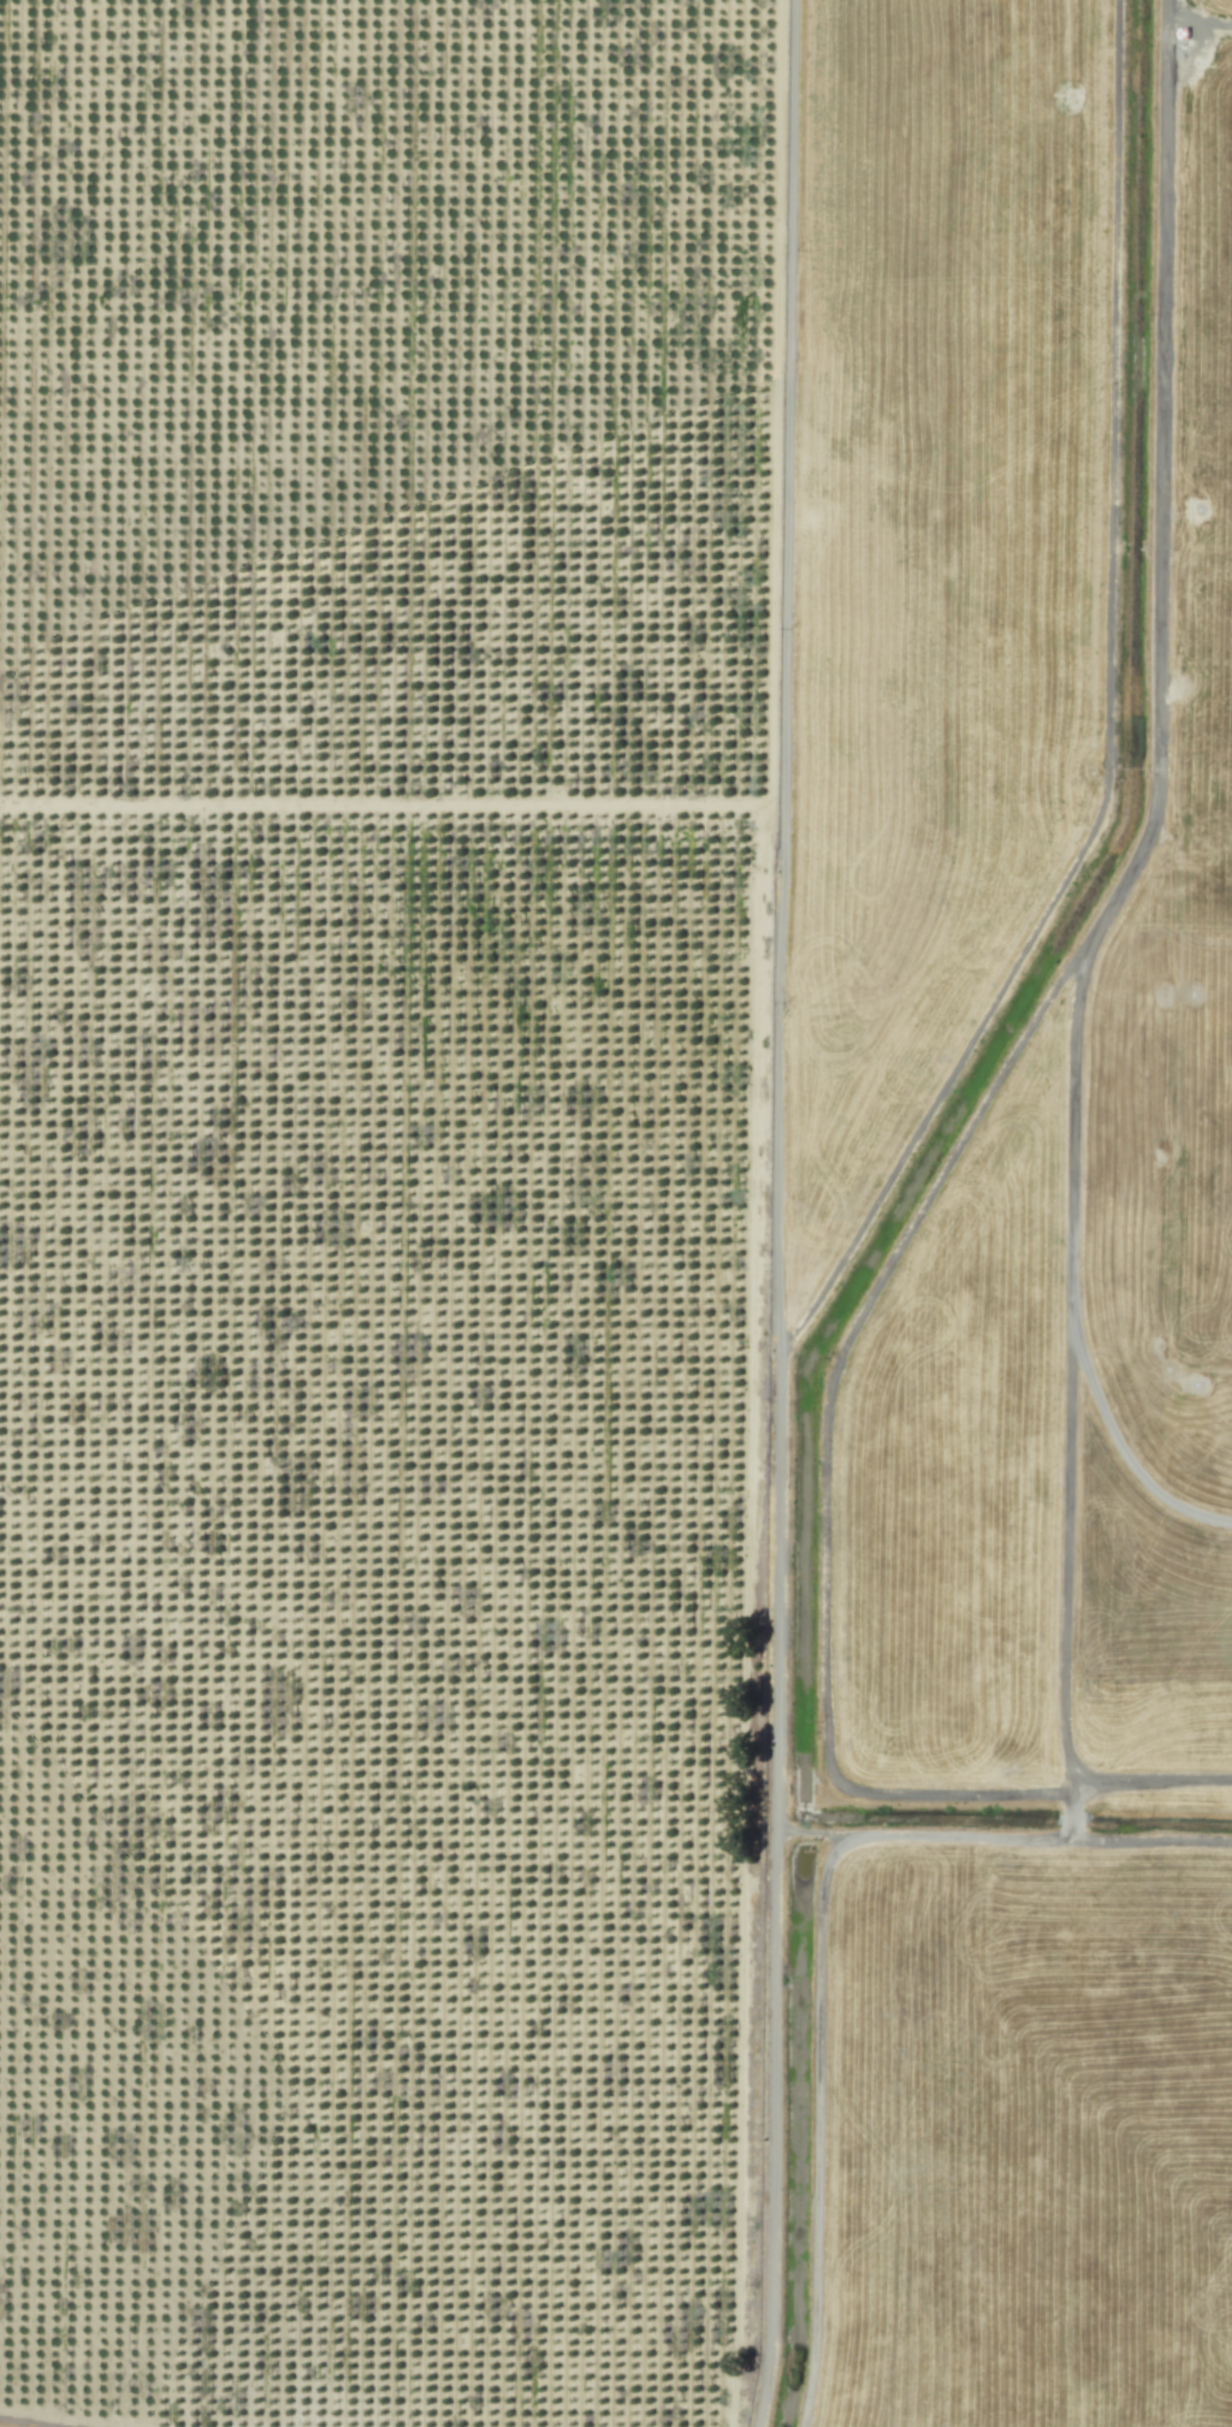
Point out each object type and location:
road: (387, 831)
airport: (997, 1234)

